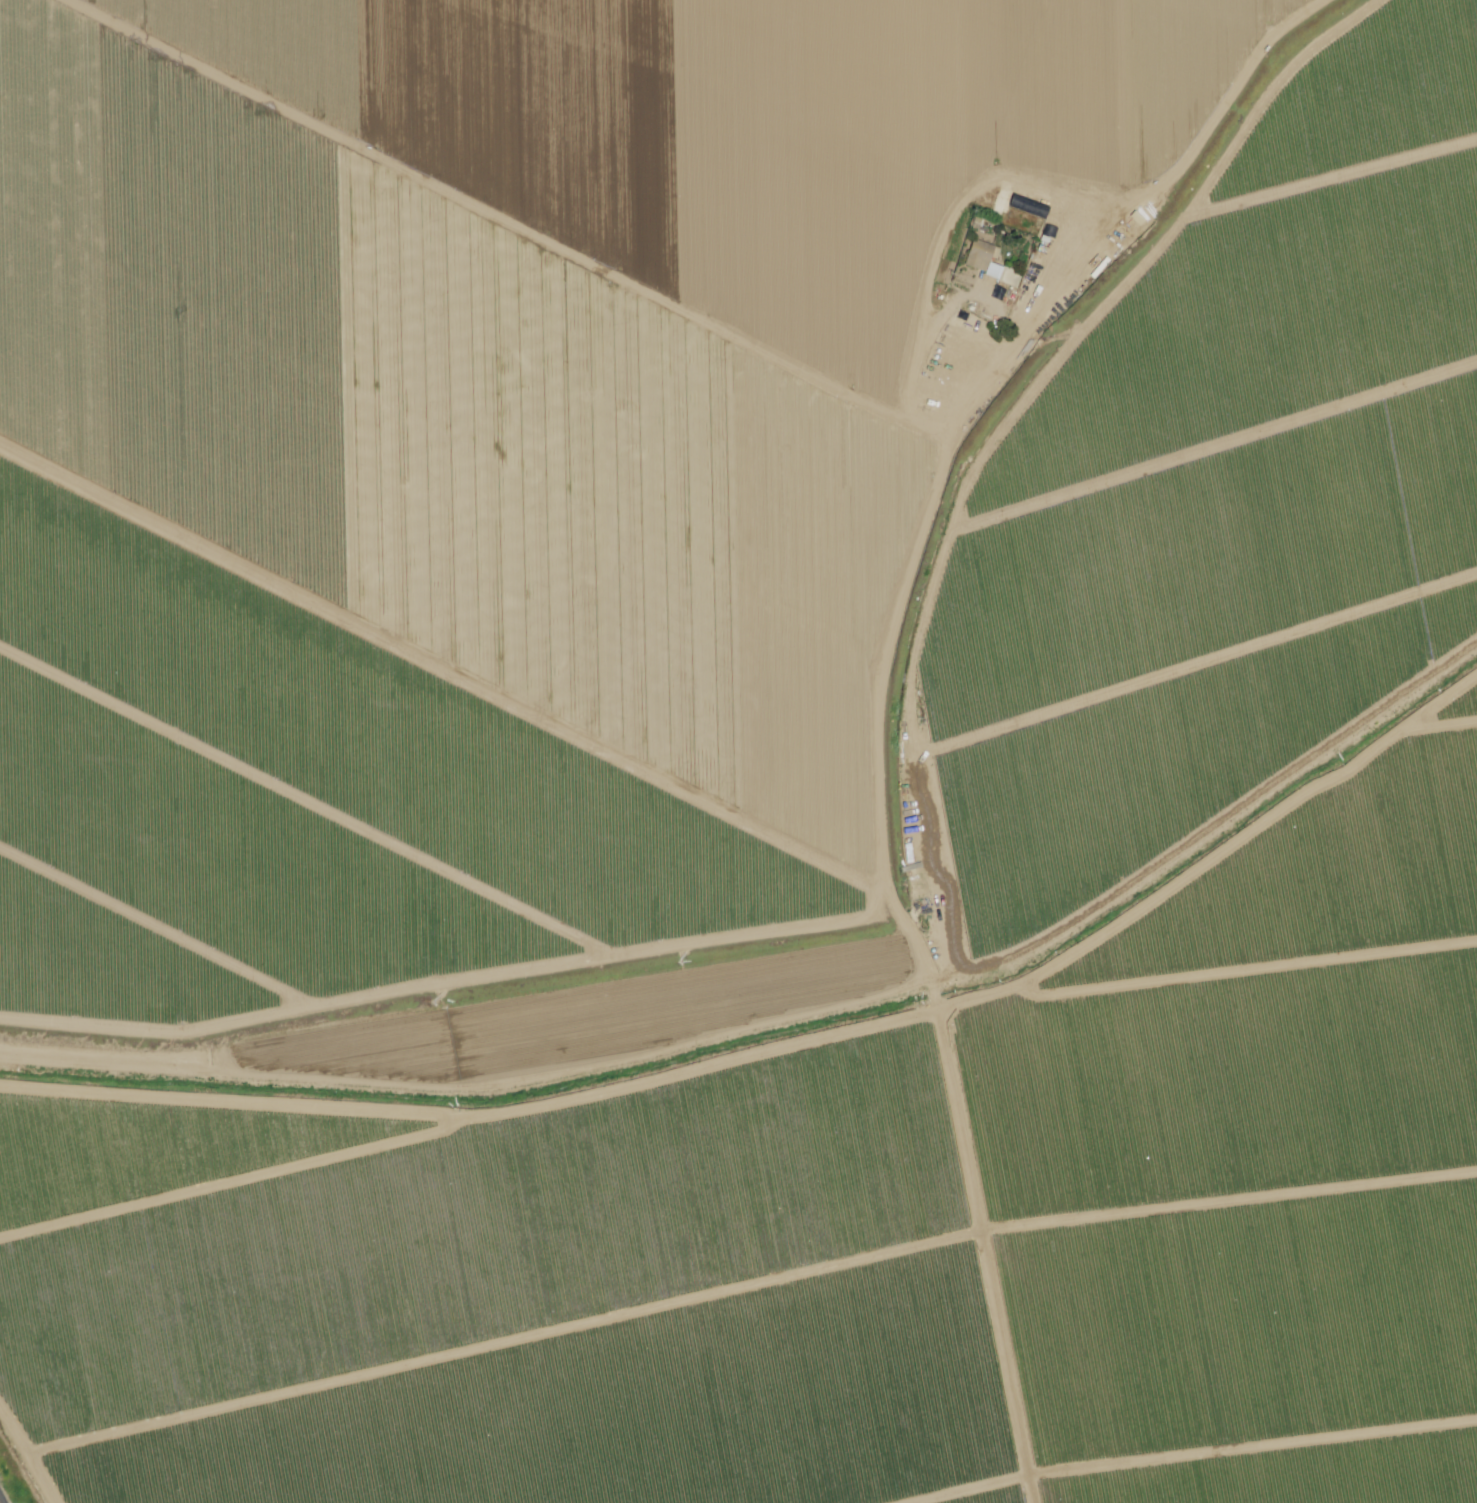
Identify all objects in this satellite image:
crop: (1227, 17)
crop: (950, 77)
crop: (1407, 84)
crop: (605, 162)
building: (1141, 218)
crop: (1229, 229)
building: (984, 255)
building: (1012, 276)
crop: (1430, 278)
crop: (455, 317)
crop: (1154, 480)
crop: (1450, 511)
crop: (417, 552)
crop: (1179, 715)
crop: (1443, 730)
crop: (353, 787)
crop: (147, 945)
crop: (1268, 950)
crop: (751, 988)
crop: (447, 1040)
crop: (488, 1202)
crop: (1231, 1228)
crop: (535, 1411)
crop: (1278, 1447)
crop: (1022, 1502)

